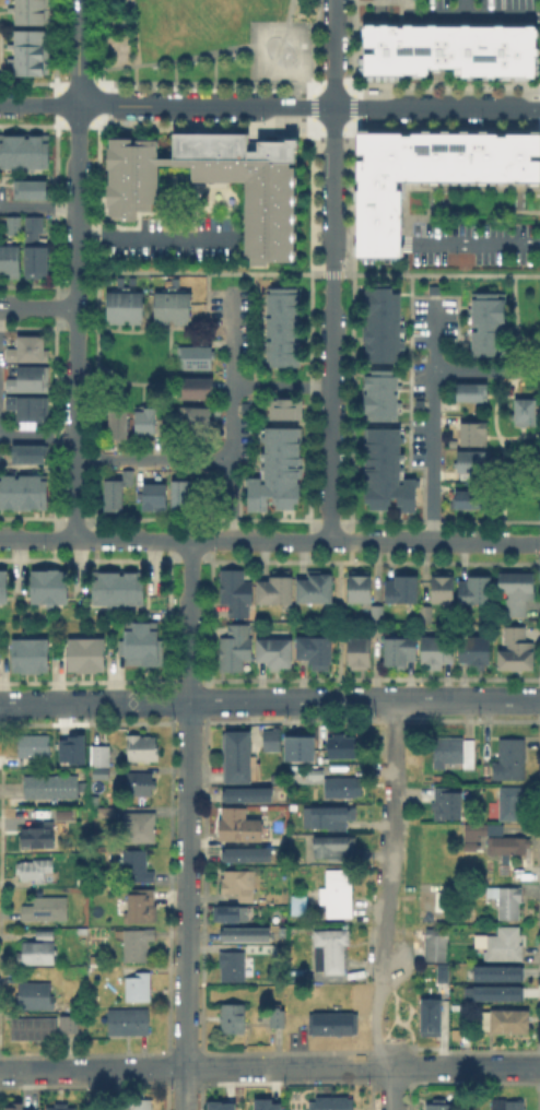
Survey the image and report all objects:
building: (28, 11)
road: (434, 16)
road: (493, 17)
park: (210, 46)
building: (28, 50)
road: (78, 51)
fountain: (283, 52)
building: (451, 56)
road: (201, 57)
road: (307, 57)
road: (273, 87)
road: (38, 104)
road: (308, 106)
building: (23, 149)
building: (429, 172)
building: (131, 179)
building: (247, 184)
building: (27, 187)
road: (38, 206)
building: (15, 225)
road: (159, 237)
road: (476, 244)
building: (36, 250)
building: (11, 260)
road: (332, 270)
road: (301, 273)
road: (210, 292)
building: (122, 306)
road: (37, 307)
building: (172, 308)
road: (75, 320)
building: (380, 322)
building: (485, 322)
building: (283, 328)
building: (28, 351)
building: (195, 358)
road: (486, 371)
building: (32, 381)
road: (281, 388)
building: (195, 389)
building: (379, 393)
building: (472, 393)
building: (282, 406)
building: (30, 409)
building: (526, 413)
road: (231, 416)
building: (195, 421)
road: (433, 421)
building: (116, 422)
building: (145, 423)
building: (473, 435)
road: (37, 437)
building: (26, 450)
road: (153, 460)
building: (474, 463)
building: (274, 469)
building: (384, 470)
building: (127, 479)
building: (22, 489)
building: (113, 496)
building: (178, 496)
building: (153, 498)
building: (472, 500)
road: (270, 541)
building: (2, 583)
building: (46, 584)
building: (114, 586)
building: (360, 588)
building: (275, 589)
building: (402, 589)
building: (443, 589)
building: (315, 590)
building: (474, 591)
building: (516, 592)
building: (234, 593)
road: (190, 619)
road: (339, 621)
building: (376, 621)
building: (139, 641)
building: (235, 649)
building: (436, 650)
building: (398, 651)
building: (517, 651)
building: (27, 652)
building: (83, 652)
building: (477, 652)
building: (274, 653)
building: (314, 653)
building: (359, 653)
road: (269, 699)
building: (274, 741)
building: (36, 747)
building: (344, 747)
building: (143, 749)
building: (301, 751)
building: (455, 752)
building: (68, 758)
building: (514, 759)
building: (242, 760)
building: (102, 761)
building: (318, 774)
building: (438, 778)
building: (141, 786)
building: (52, 788)
building: (345, 788)
building: (244, 793)
building: (513, 803)
building: (446, 804)
building: (108, 812)
building: (325, 816)
building: (237, 825)
building: (143, 828)
building: (477, 832)
building: (43, 838)
building: (331, 846)
building: (509, 846)
building: (244, 853)
building: (137, 866)
building: (36, 872)
building: (96, 882)
road: (386, 883)
building: (83, 885)
building: (243, 888)
building: (339, 893)
building: (443, 898)
building: (509, 902)
road: (187, 905)
building: (143, 908)
building: (49, 910)
building: (233, 914)
building: (46, 936)
building: (244, 936)
building: (434, 943)
building: (139, 945)
building: (507, 945)
building: (332, 952)
building: (39, 955)
building: (237, 967)
building: (439, 971)
building: (495, 971)
building: (140, 989)
building: (495, 992)
building: (38, 997)
building: (274, 1016)
building: (427, 1016)
building: (235, 1019)
building: (281, 1020)
building: (130, 1023)
building: (509, 1024)
building: (334, 1025)
building: (46, 1027)
road: (269, 1067)
road: (391, 1088)
building: (263, 1103)
building: (334, 1103)
building: (141, 1105)
building: (505, 1105)
building: (13, 1106)
building: (62, 1107)
building: (213, 1107)
building: (437, 1108)

